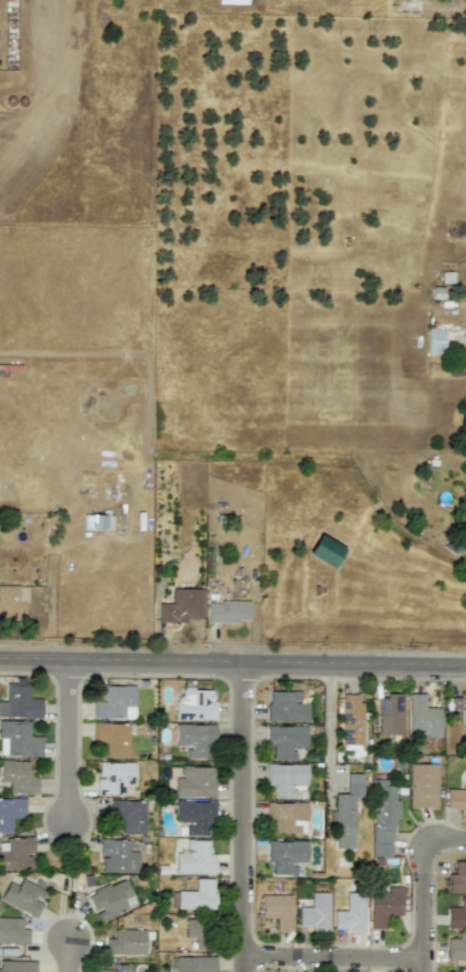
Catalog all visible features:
building: (232, 1)
building: (435, 341)
building: (95, 522)
building: (324, 551)
building: (11, 601)
building: (181, 606)
building: (227, 611)
road: (89, 662)
road: (322, 664)
building: (19, 702)
building: (114, 702)
building: (194, 704)
building: (456, 705)
building: (285, 707)
building: (465, 711)
building: (390, 715)
building: (422, 718)
building: (351, 719)
road: (328, 724)
building: (111, 738)
building: (17, 739)
building: (195, 740)
building: (284, 740)
road: (70, 742)
building: (17, 776)
building: (113, 777)
building: (285, 779)
building: (195, 782)
building: (422, 785)
building: (457, 796)
building: (9, 811)
building: (345, 812)
building: (128, 815)
building: (194, 816)
building: (382, 816)
building: (286, 817)
road: (244, 818)
building: (15, 853)
building: (284, 855)
building: (116, 856)
building: (194, 859)
building: (457, 878)
road: (426, 880)
building: (197, 895)
building: (23, 896)
building: (110, 899)
building: (383, 905)
building: (277, 910)
building: (315, 912)
building: (349, 914)
building: (456, 915)
building: (11, 931)
building: (198, 933)
building: (125, 942)
building: (456, 948)
road: (71, 957)
road: (335, 959)
building: (194, 964)
building: (16, 966)
road: (426, 966)
building: (462, 970)
building: (102, 971)

